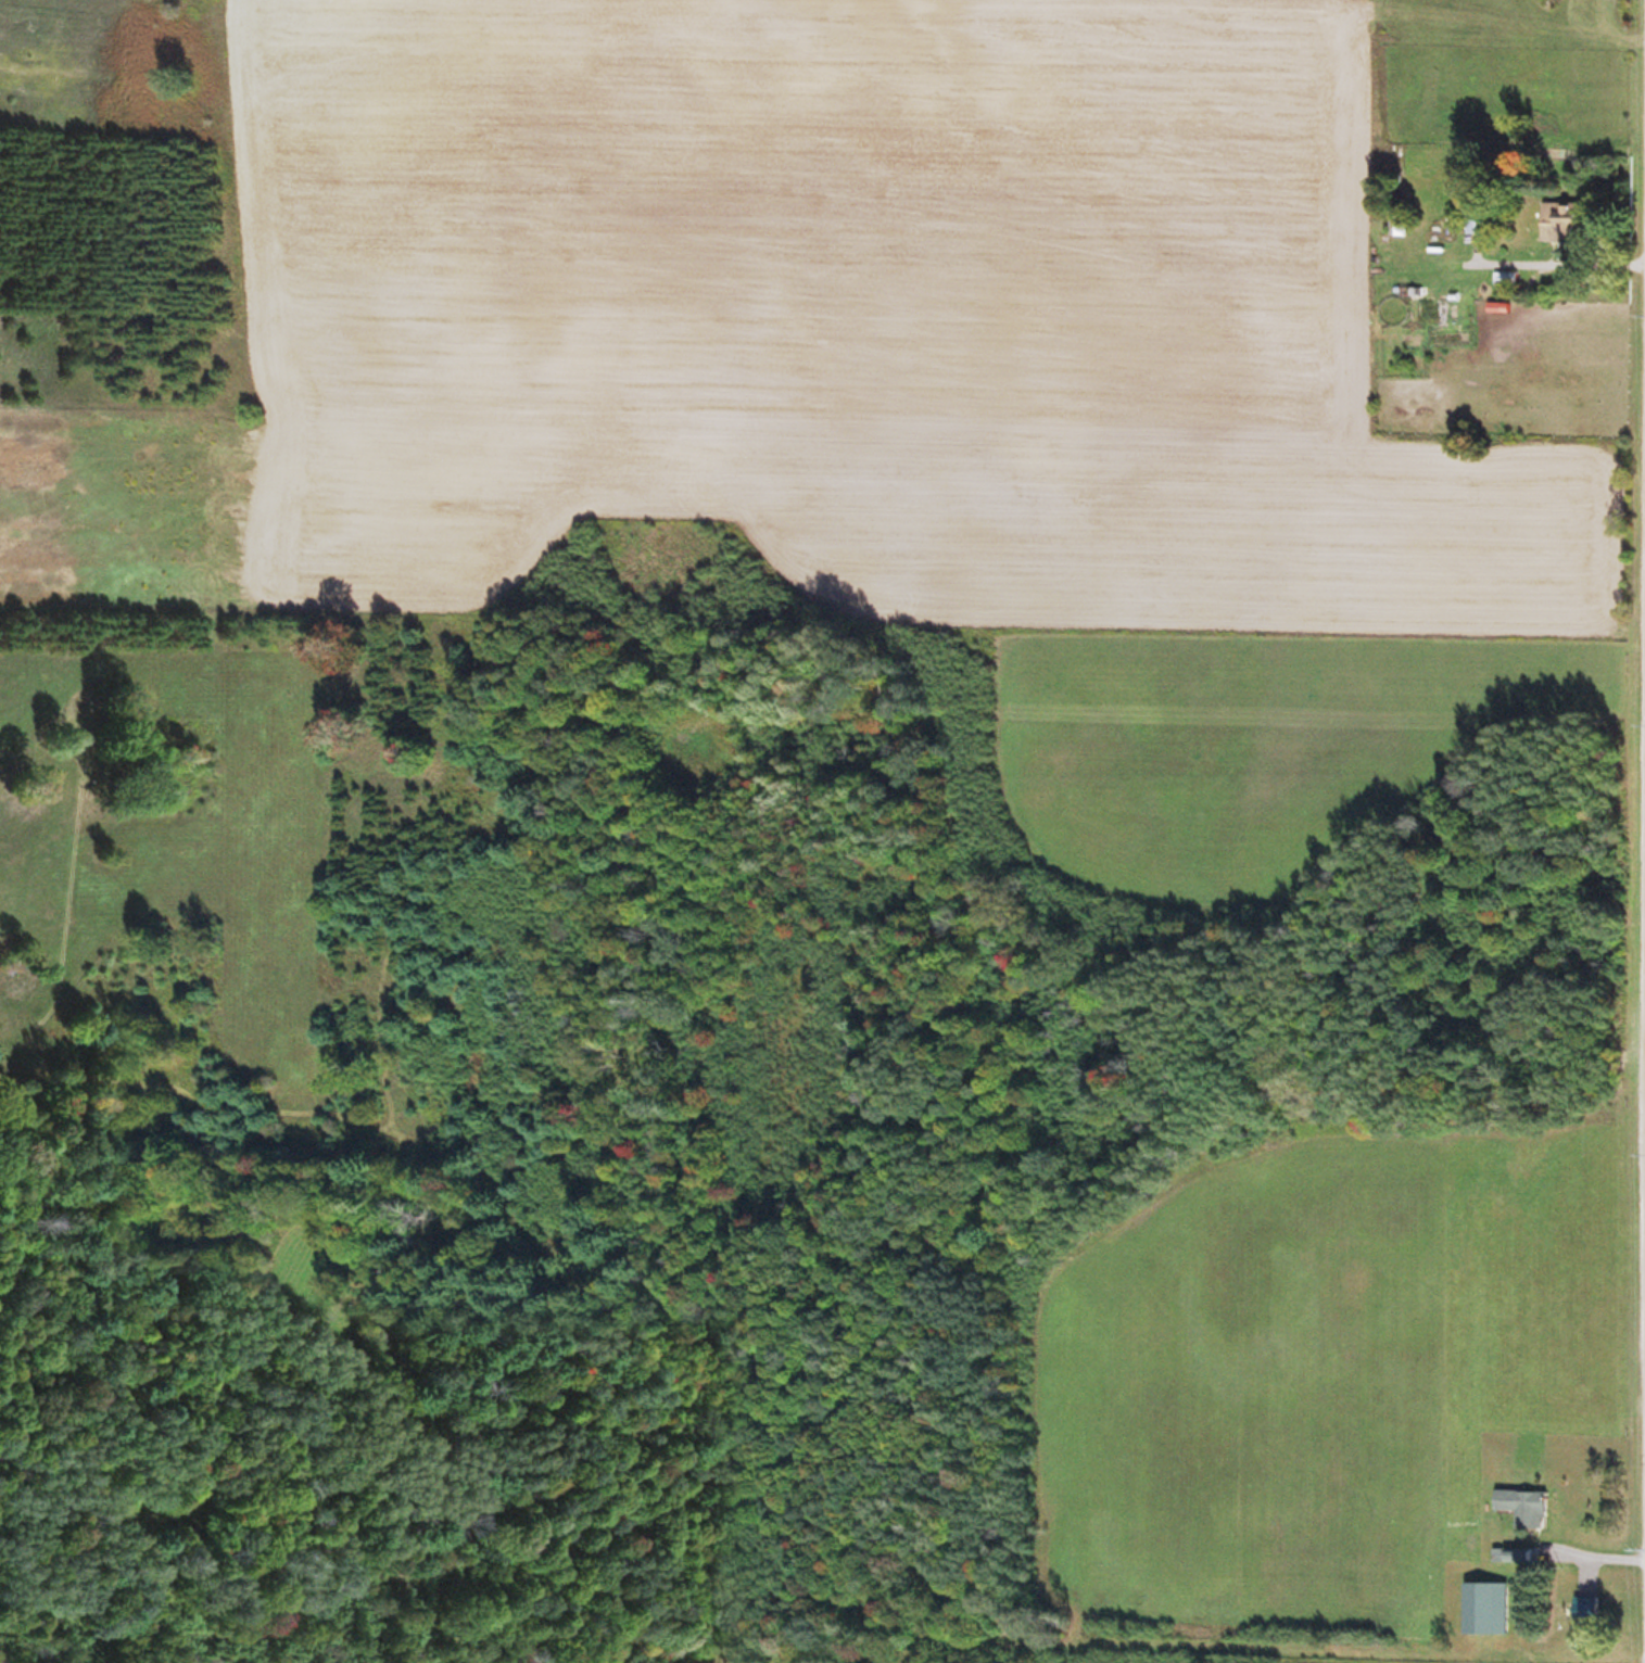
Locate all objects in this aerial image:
building: (1396, 219)
building: (1554, 219)
road: (1638, 764)
building: (1521, 1507)
building: (1482, 1608)
building: (1580, 1610)

